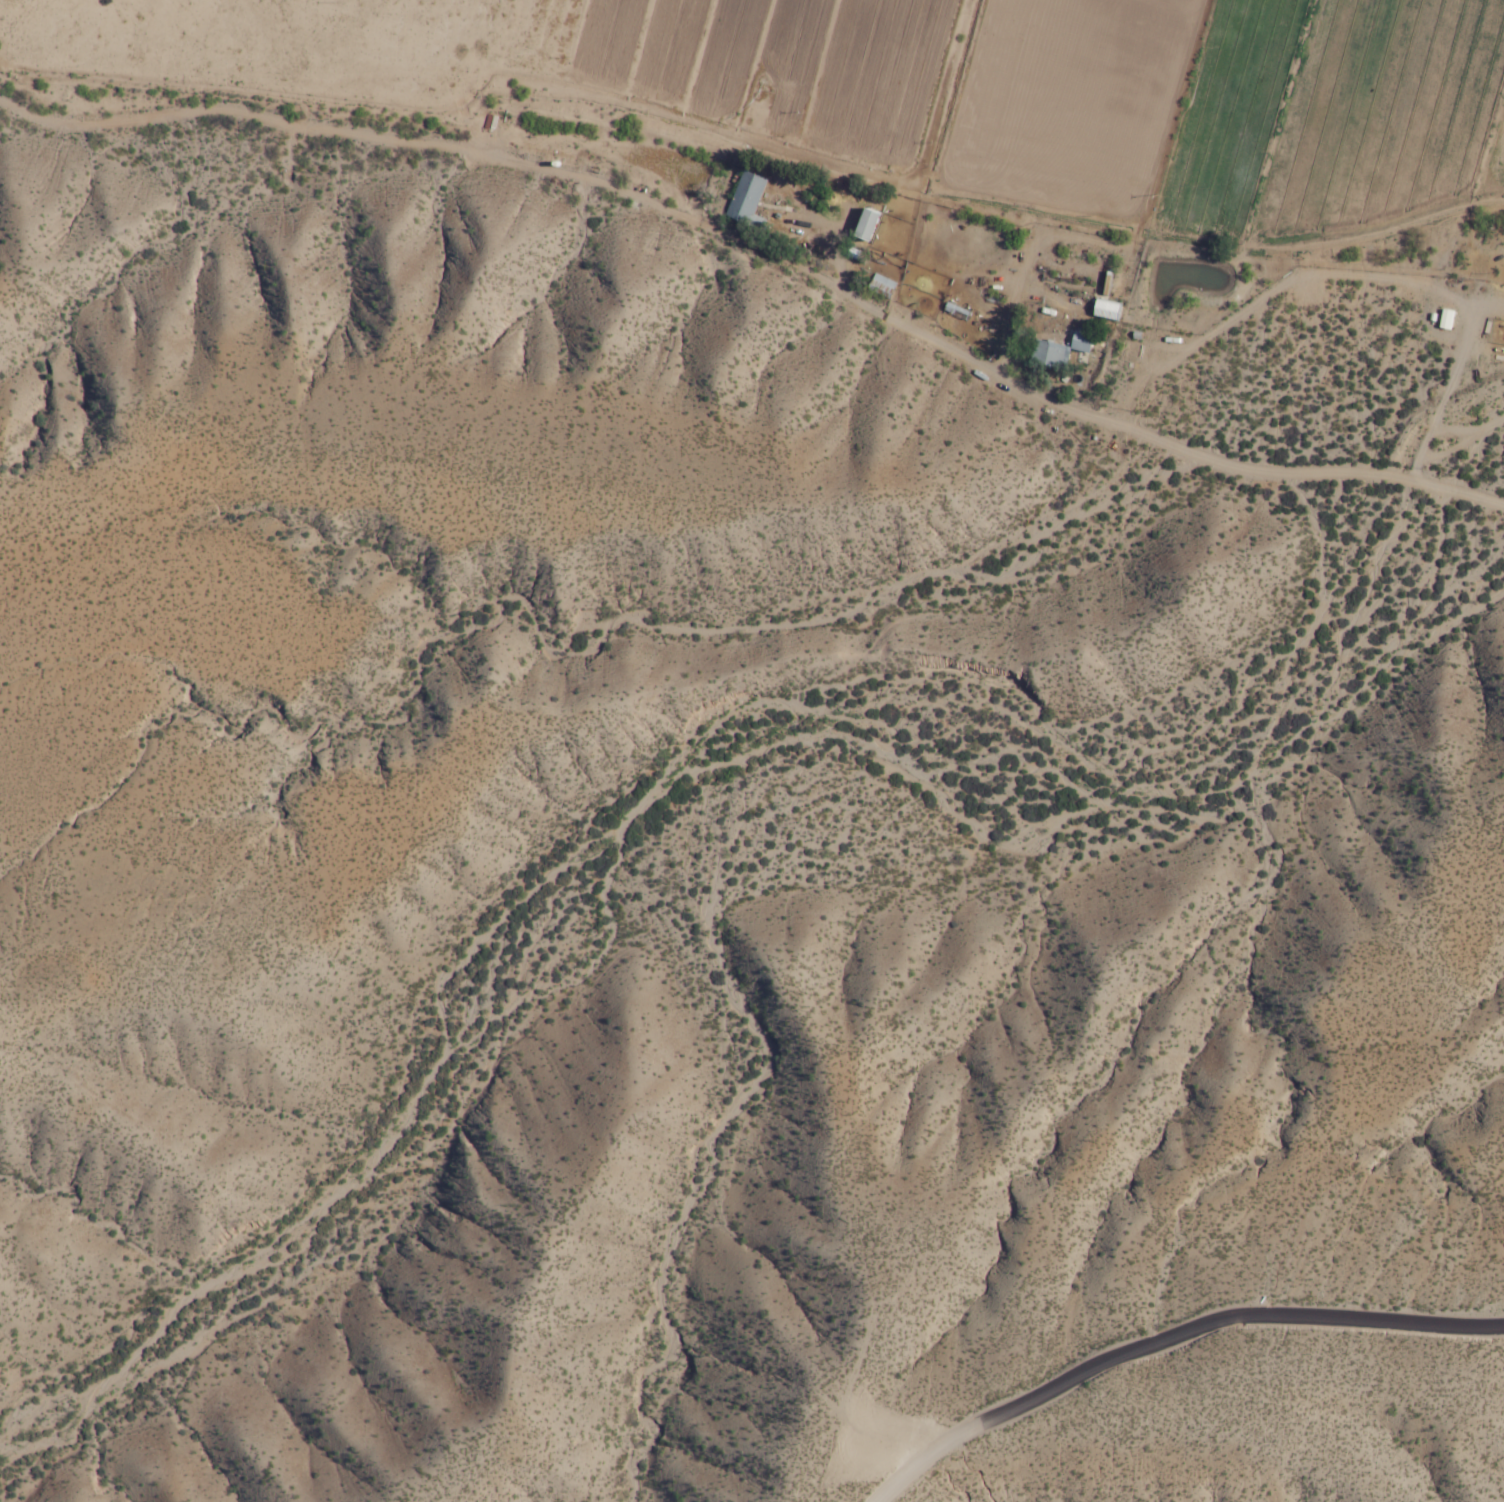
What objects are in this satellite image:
building: (747, 199)
road: (765, 251)
building: (1082, 341)
building: (1050, 354)
road: (1171, 1336)

